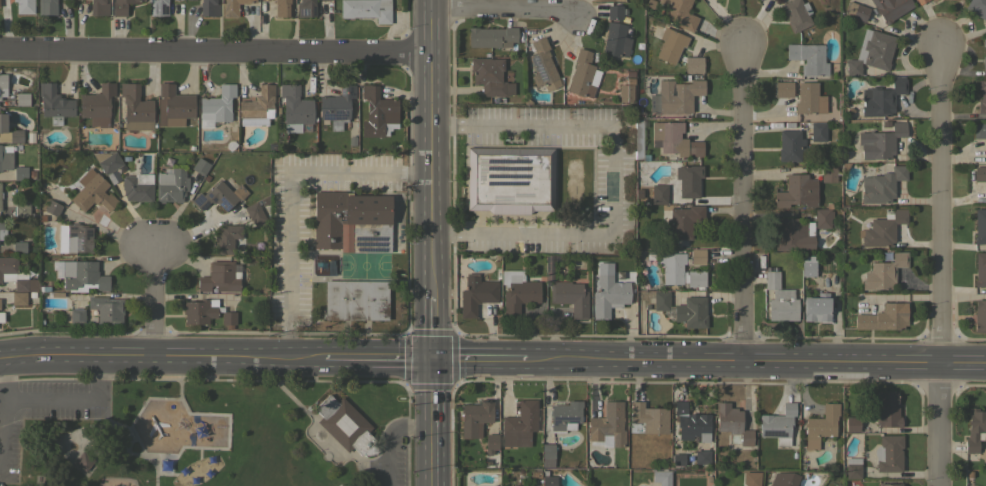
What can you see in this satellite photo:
building: (920, 1)
building: (24, 6)
building: (46, 6)
building: (121, 6)
building: (97, 7)
building: (158, 7)
building: (232, 7)
building: (281, 7)
building: (977, 7)
building: (208, 8)
building: (306, 8)
building: (890, 8)
building: (366, 9)
building: (856, 10)
road: (503, 12)
building: (614, 12)
building: (679, 13)
building: (796, 14)
building: (491, 37)
building: (616, 40)
building: (670, 44)
road: (214, 51)
building: (871, 51)
building: (984, 53)
building: (808, 58)
building: (542, 64)
building: (694, 64)
building: (583, 74)
building: (488, 75)
building: (3, 85)
building: (783, 88)
rooftop solar panel: (341, 91)
rooftop solar panel: (349, 91)
building: (625, 92)
building: (677, 95)
building: (981, 96)
building: (807, 98)
building: (881, 98)
building: (21, 99)
building: (54, 103)
building: (97, 104)
building: (217, 104)
building: (175, 105)
building: (337, 106)
building: (257, 107)
building: (136, 108)
building: (294, 108)
building: (377, 112)
rooftop solar panel: (336, 116)
building: (324, 122)
building: (818, 131)
building: (8, 132)
building: (980, 133)
building: (30, 137)
building: (674, 139)
building: (351, 140)
building: (880, 141)
building: (790, 145)
building: (5, 157)
rooftop solar panel: (506, 160)
rooftop solar panel: (488, 161)
building: (109, 162)
building: (200, 166)
rooftop solar panel: (489, 168)
rooftop solar panel: (509, 169)
building: (829, 172)
building: (20, 173)
building: (31, 174)
building: (980, 175)
rooftop solar panel: (488, 176)
rooftop solar panel: (506, 177)
building: (509, 179)
road: (613, 179)
building: (688, 180)
rooftop solar panel: (490, 183)
building: (881, 184)
building: (171, 185)
rooftop solar panel: (507, 186)
building: (137, 187)
building: (92, 191)
road: (289, 191)
building: (796, 191)
building: (657, 194)
building: (219, 196)
road: (743, 201)
building: (52, 208)
building: (21, 210)
building: (254, 212)
building: (823, 218)
building: (351, 220)
building: (683, 220)
building: (979, 225)
building: (881, 228)
building: (1, 230)
building: (794, 234)
building: (77, 237)
rooftop solar panel: (372, 237)
building: (225, 238)
road: (431, 242)
rooftop solar panel: (366, 243)
building: (18, 247)
rooftop solar panel: (374, 248)
building: (698, 256)
building: (807, 265)
building: (8, 266)
road: (937, 266)
building: (671, 267)
building: (980, 269)
building: (883, 272)
building: (83, 276)
building: (220, 277)
building: (696, 278)
building: (771, 278)
building: (25, 284)
building: (517, 291)
building: (31, 294)
building: (54, 294)
building: (476, 294)
building: (607, 294)
building: (570, 297)
building: (18, 298)
road: (156, 298)
building: (356, 300)
building: (661, 300)
rooftop solar panel: (54, 301)
building: (782, 305)
building: (817, 307)
building: (106, 308)
building: (199, 311)
building: (691, 311)
building: (979, 314)
building: (77, 315)
building: (65, 316)
building: (1, 317)
building: (883, 317)
building: (228, 318)
road: (492, 356)
road: (254, 377)
road: (74, 399)
building: (887, 409)
parking lot: (44, 410)
road: (3, 415)
building: (565, 415)
road: (134, 416)
building: (475, 417)
building: (649, 417)
rooftop solar panel: (571, 419)
road: (118, 422)
building: (691, 422)
building: (732, 423)
building: (852, 423)
building: (519, 424)
building: (778, 424)
building: (345, 425)
building: (820, 425)
building: (607, 426)
road: (79, 429)
road: (229, 429)
building: (975, 429)
building: (200, 432)
park: (201, 432)
rooftop solar panel: (776, 435)
building: (491, 443)
building: (547, 450)
road: (125, 452)
road: (199, 453)
building: (888, 453)
road: (336, 454)
parking lot: (389, 457)
building: (545, 457)
building: (701, 458)
building: (210, 459)
building: (83, 460)
building: (164, 465)
road: (92, 466)
building: (852, 467)
building: (183, 470)
road: (364, 472)
building: (208, 473)
road: (159, 474)
building: (661, 477)
building: (749, 478)
building: (548, 479)
building: (784, 479)
building: (194, 480)
building: (888, 484)

